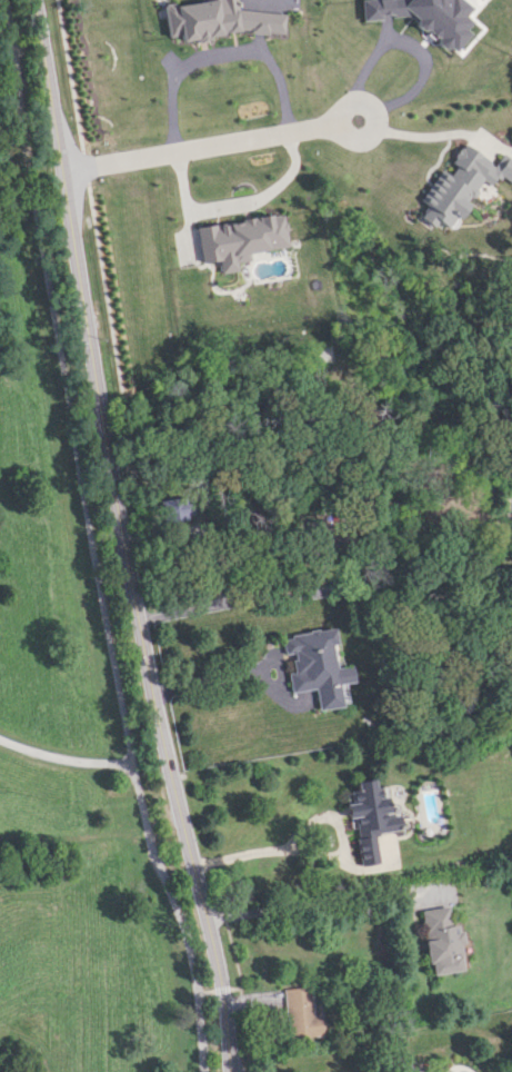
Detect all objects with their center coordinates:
building: (425, 17)
building: (215, 19)
road: (413, 44)
road: (219, 54)
road: (20, 120)
road: (424, 136)
road: (212, 145)
building: (460, 185)
road: (233, 205)
building: (238, 239)
road: (82, 488)
road: (124, 537)
road: (252, 599)
building: (315, 665)
road: (229, 675)
park: (70, 692)
road: (62, 756)
building: (371, 817)
road: (314, 853)
road: (323, 899)
road: (172, 902)
building: (442, 941)
building: (300, 1013)

